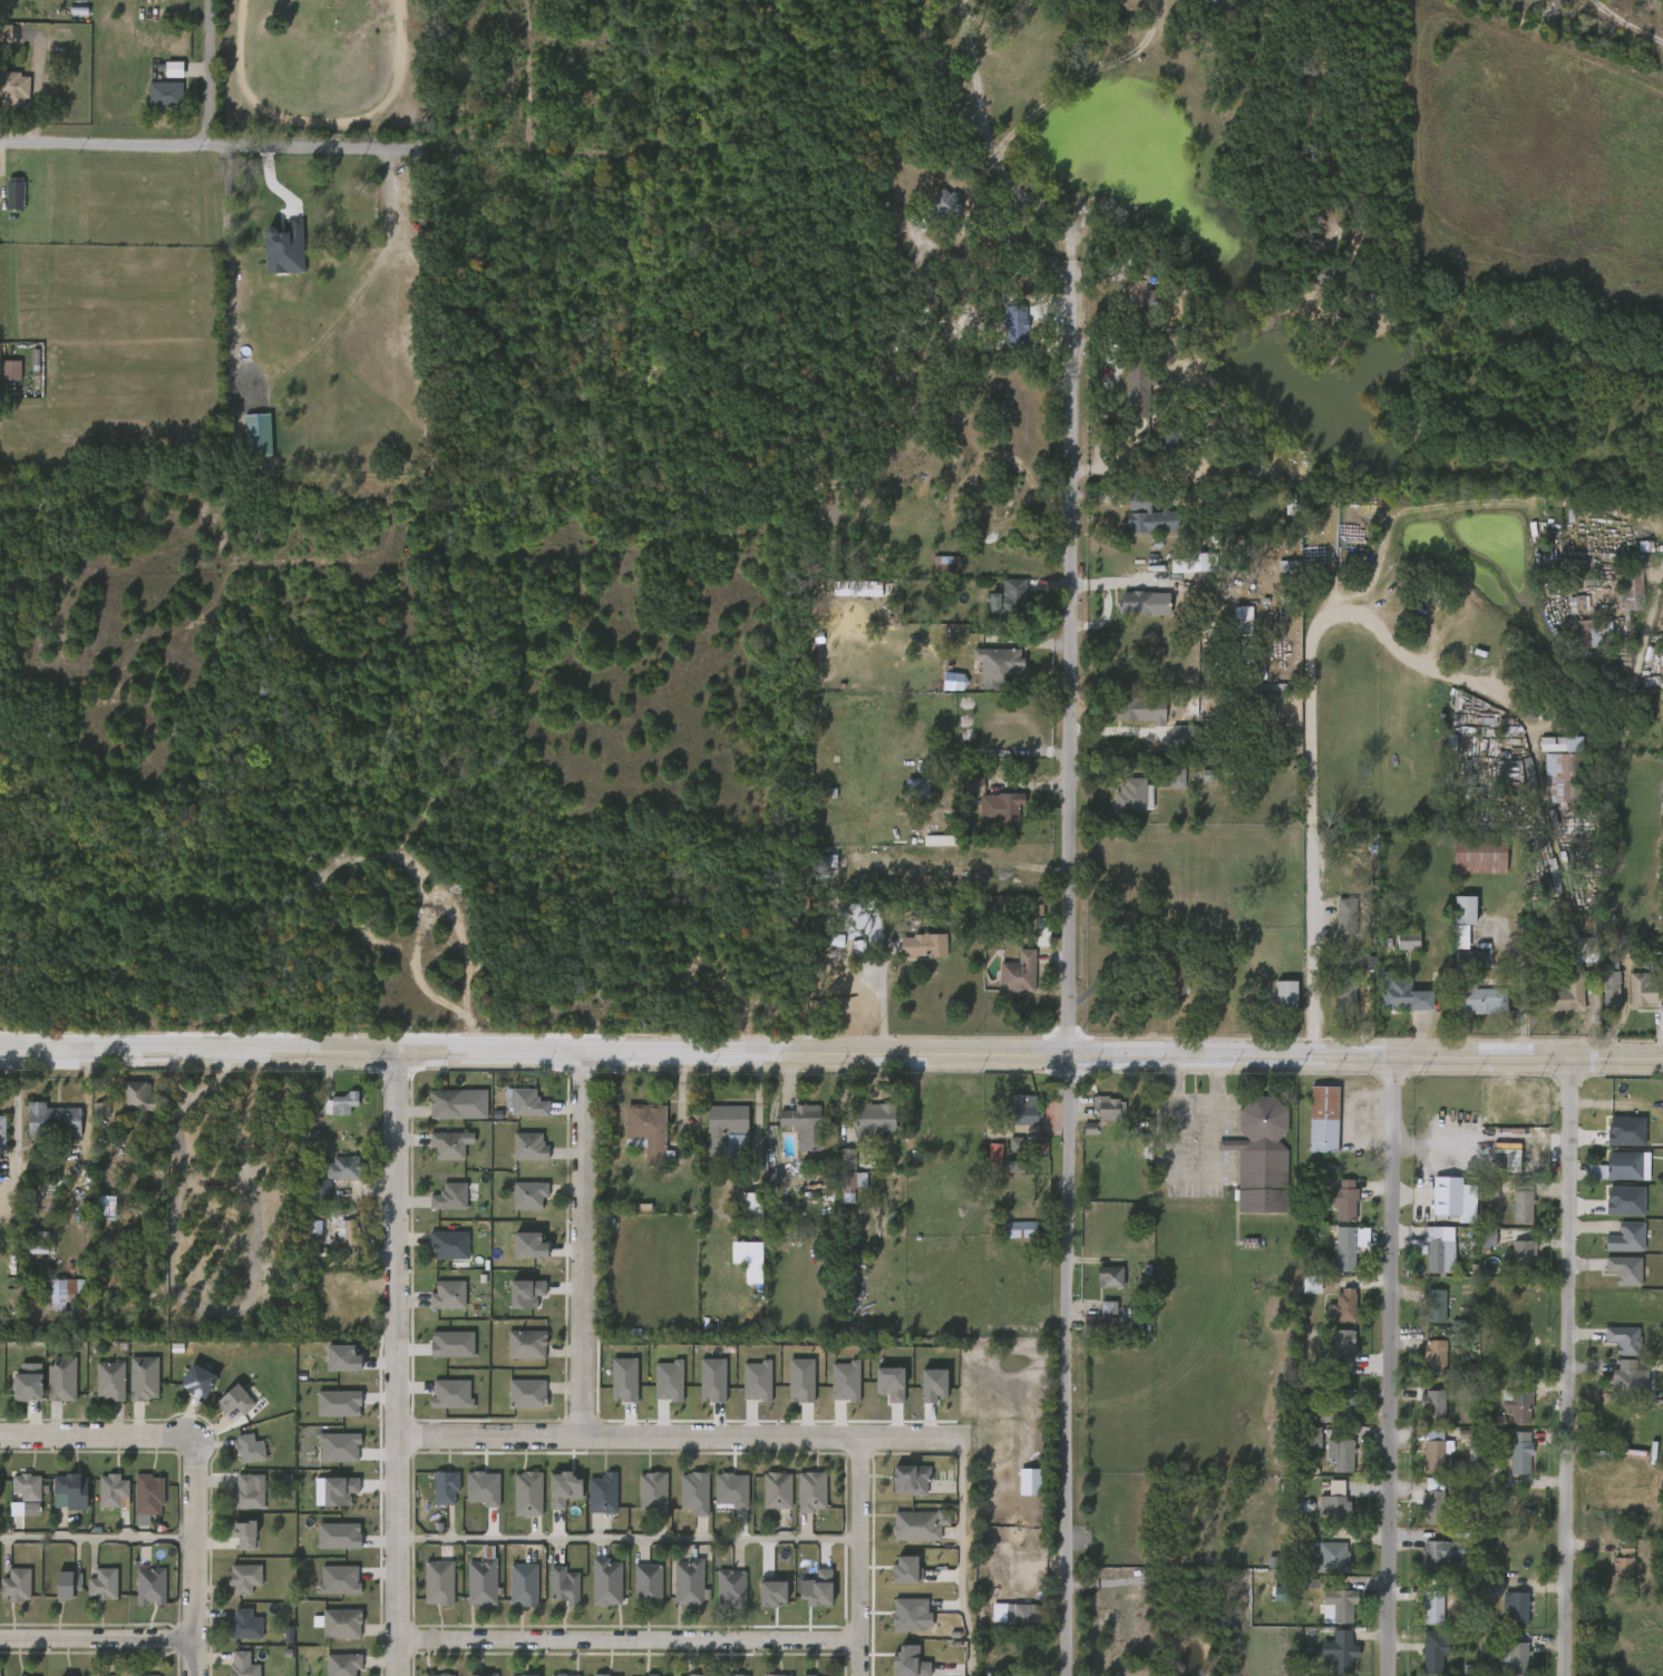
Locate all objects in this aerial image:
building: (1662, 6)
building: (1109, 23)
road: (208, 72)
building: (16, 94)
building: (164, 94)
building: (153, 104)
road: (206, 146)
road: (996, 148)
building: (14, 194)
building: (346, 194)
building: (246, 198)
building: (6, 203)
building: (937, 207)
building: (234, 208)
building: (273, 257)
building: (1334, 277)
building: (1317, 284)
building: (1137, 292)
building: (10, 371)
building: (1138, 377)
building: (1126, 399)
building: (256, 432)
building: (1174, 446)
building: (1159, 449)
building: (1148, 514)
building: (1137, 526)
building: (946, 563)
building: (1179, 572)
building: (934, 573)
building: (1275, 576)
building: (1291, 587)
building: (1631, 592)
building: (846, 597)
building: (1618, 601)
building: (1134, 603)
building: (1010, 604)
building: (1232, 627)
building: (1592, 635)
building: (1579, 645)
building: (998, 666)
building: (1246, 686)
building: (1141, 709)
building: (1128, 719)
building: (1181, 735)
road: (1307, 741)
building: (1169, 743)
building: (1564, 768)
building: (1169, 778)
building: (1548, 779)
building: (916, 787)
building: (1164, 787)
building: (961, 793)
building: (1134, 796)
building: (904, 797)
building: (1120, 805)
building: (996, 808)
building: (1478, 856)
building: (1466, 909)
building: (1346, 915)
building: (1451, 918)
building: (1333, 925)
building: (1409, 939)
building: (1030, 941)
building: (922, 944)
building: (1395, 949)
building: (1582, 949)
building: (917, 955)
building: (1470, 958)
building: (1457, 966)
building: (1171, 968)
building: (1018, 973)
road: (1064, 973)
road: (1105, 976)
building: (1643, 985)
building: (1568, 988)
building: (1613, 991)
building: (1597, 992)
building: (1343, 995)
building: (1476, 995)
building: (1287, 996)
building: (1403, 997)
building: (1628, 997)
building: (1273, 1004)
building: (1332, 1004)
building: (1555, 1004)
building: (1469, 1010)
road: (831, 1051)
building: (140, 1098)
building: (340, 1103)
building: (127, 1105)
building: (1021, 1109)
building: (513, 1111)
building: (446, 1112)
building: (1103, 1112)
building: (89, 1119)
building: (871, 1119)
building: (1011, 1119)
building: (1324, 1119)
building: (51, 1121)
building: (803, 1124)
building: (1311, 1128)
building: (723, 1129)
building: (646, 1130)
building: (1, 1132)
building: (448, 1146)
building: (529, 1147)
building: (1002, 1152)
building: (1024, 1152)
building: (517, 1156)
building: (1258, 1156)
building: (1630, 1166)
building: (349, 1167)
building: (849, 1175)
building: (1614, 1175)
building: (837, 1183)
road: (1180, 1186)
building: (322, 1189)
building: (528, 1195)
building: (1445, 1199)
building: (1343, 1200)
building: (1520, 1201)
building: (516, 1204)
building: (438, 1205)
building: (751, 1206)
building: (1331, 1209)
building: (1612, 1209)
building: (739, 1214)
building: (95, 1215)
building: (1509, 1216)
building: (1015, 1229)
building: (1628, 1237)
building: (347, 1238)
building: (1006, 1238)
building: (334, 1241)
road: (582, 1244)
building: (449, 1245)
building: (1614, 1246)
building: (437, 1254)
building: (517, 1254)
building: (1344, 1255)
building: (1423, 1256)
building: (1520, 1256)
building: (25, 1257)
building: (1438, 1257)
building: (753, 1258)
building: (1510, 1263)
building: (736, 1268)
building: (1626, 1269)
building: (1110, 1277)
building: (1612, 1278)
building: (1097, 1285)
building: (65, 1293)
building: (448, 1295)
building: (514, 1302)
building: (436, 1304)
building: (1343, 1305)
building: (1433, 1305)
building: (1332, 1314)
building: (1423, 1314)
building: (1093, 1316)
building: (1081, 1329)
building: (1623, 1339)
building: (523, 1344)
building: (1609, 1345)
building: (1343, 1349)
building: (440, 1353)
building: (1332, 1353)
building: (1432, 1355)
road: (397, 1363)
road: (1388, 1364)
building: (1422, 1365)
building: (330, 1366)
road: (1566, 1366)
building: (143, 1376)
building: (1630, 1376)
building: (60, 1378)
building: (195, 1378)
building: (109, 1381)
building: (26, 1383)
building: (1661, 1383)
building: (132, 1386)
building: (1616, 1387)
building: (98, 1388)
building: (611, 1388)
building: (700, 1388)
building: (788, 1388)
building: (186, 1390)
building: (655, 1390)
building: (745, 1390)
building: (833, 1390)
building: (877, 1392)
building: (523, 1393)
building: (921, 1393)
building: (234, 1399)
building: (439, 1402)
building: (1336, 1405)
building: (1432, 1405)
building: (1519, 1407)
building: (223, 1410)
building: (327, 1412)
building: (1506, 1413)
building: (1420, 1414)
building: (1323, 1421)
road: (90, 1436)
road: (679, 1436)
building: (1309, 1438)
building: (1421, 1443)
building: (1301, 1446)
building: (249, 1448)
building: (1432, 1452)
building: (1521, 1452)
building: (1339, 1453)
building: (327, 1455)
building: (237, 1458)
building: (1507, 1461)
building: (1329, 1463)
building: (1422, 1463)
building: (907, 1480)
building: (26, 1484)
building: (448, 1488)
building: (71, 1489)
building: (777, 1489)
building: (113, 1490)
building: (811, 1490)
building: (1017, 1490)
building: (246, 1492)
building: (147, 1493)
building: (601, 1493)
building: (650, 1493)
building: (692, 1493)
building: (531, 1494)
building: (434, 1495)
building: (1323, 1495)
building: (470, 1497)
building: (551, 1498)
building: (719, 1498)
building: (327, 1499)
building: (765, 1499)
building: (58, 1500)
building: (100, 1500)
building: (798, 1500)
building: (682, 1501)
building: (1432, 1501)
building: (516, 1502)
building: (14, 1503)
building: (136, 1506)
building: (1334, 1507)
building: (1420, 1509)
building: (1321, 1514)
building: (913, 1527)
building: (243, 1532)
road: (97, 1539)
road: (628, 1541)
building: (232, 1542)
building: (327, 1545)
building: (1438, 1555)
building: (1333, 1556)
road: (857, 1557)
road: (960, 1557)
road: (194, 1558)
building: (1612, 1558)
building: (1428, 1562)
building: (1320, 1565)
building: (1623, 1572)
building: (244, 1577)
building: (893, 1578)
building: (1609, 1578)
building: (482, 1580)
building: (689, 1580)
building: (606, 1581)
building: (438, 1582)
building: (101, 1584)
building: (648, 1584)
building: (16, 1585)
building: (61, 1585)
building: (149, 1585)
building: (526, 1585)
building: (563, 1585)
building: (233, 1586)
building: (731, 1587)
building: (327, 1588)
building: (470, 1590)
building: (427, 1591)
building: (594, 1591)
building: (635, 1591)
building: (678, 1591)
building: (91, 1592)
building: (510, 1592)
building: (552, 1594)
building: (138, 1595)
building: (719, 1595)
building: (804, 1597)
building: (1479, 1597)
building: (760, 1600)
building: (1342, 1604)
building: (1515, 1607)
building: (1432, 1608)
building: (1325, 1614)
building: (1502, 1616)
building: (1419, 1618)
building: (1002, 1620)
building: (340, 1621)
building: (896, 1623)
building: (243, 1624)
building: (330, 1631)
building: (232, 1634)
road: (97, 1638)
road: (628, 1640)
building: (1435, 1650)
building: (1340, 1653)
building: (1421, 1656)
building: (1518, 1658)
building: (1329, 1662)
building: (1501, 1663)
building: (342, 1664)
building: (242, 1665)
building: (895, 1665)
building: (230, 1668)
building: (438, 1674)
building: (484, 1674)
building: (20, 1675)
building: (67, 1675)
building: (111, 1675)
building: (145, 1675)
building: (524, 1675)
building: (563, 1675)
building: (597, 1675)
building: (650, 1675)
building: (692, 1675)
building: (774, 1675)
building: (805, 1675)

